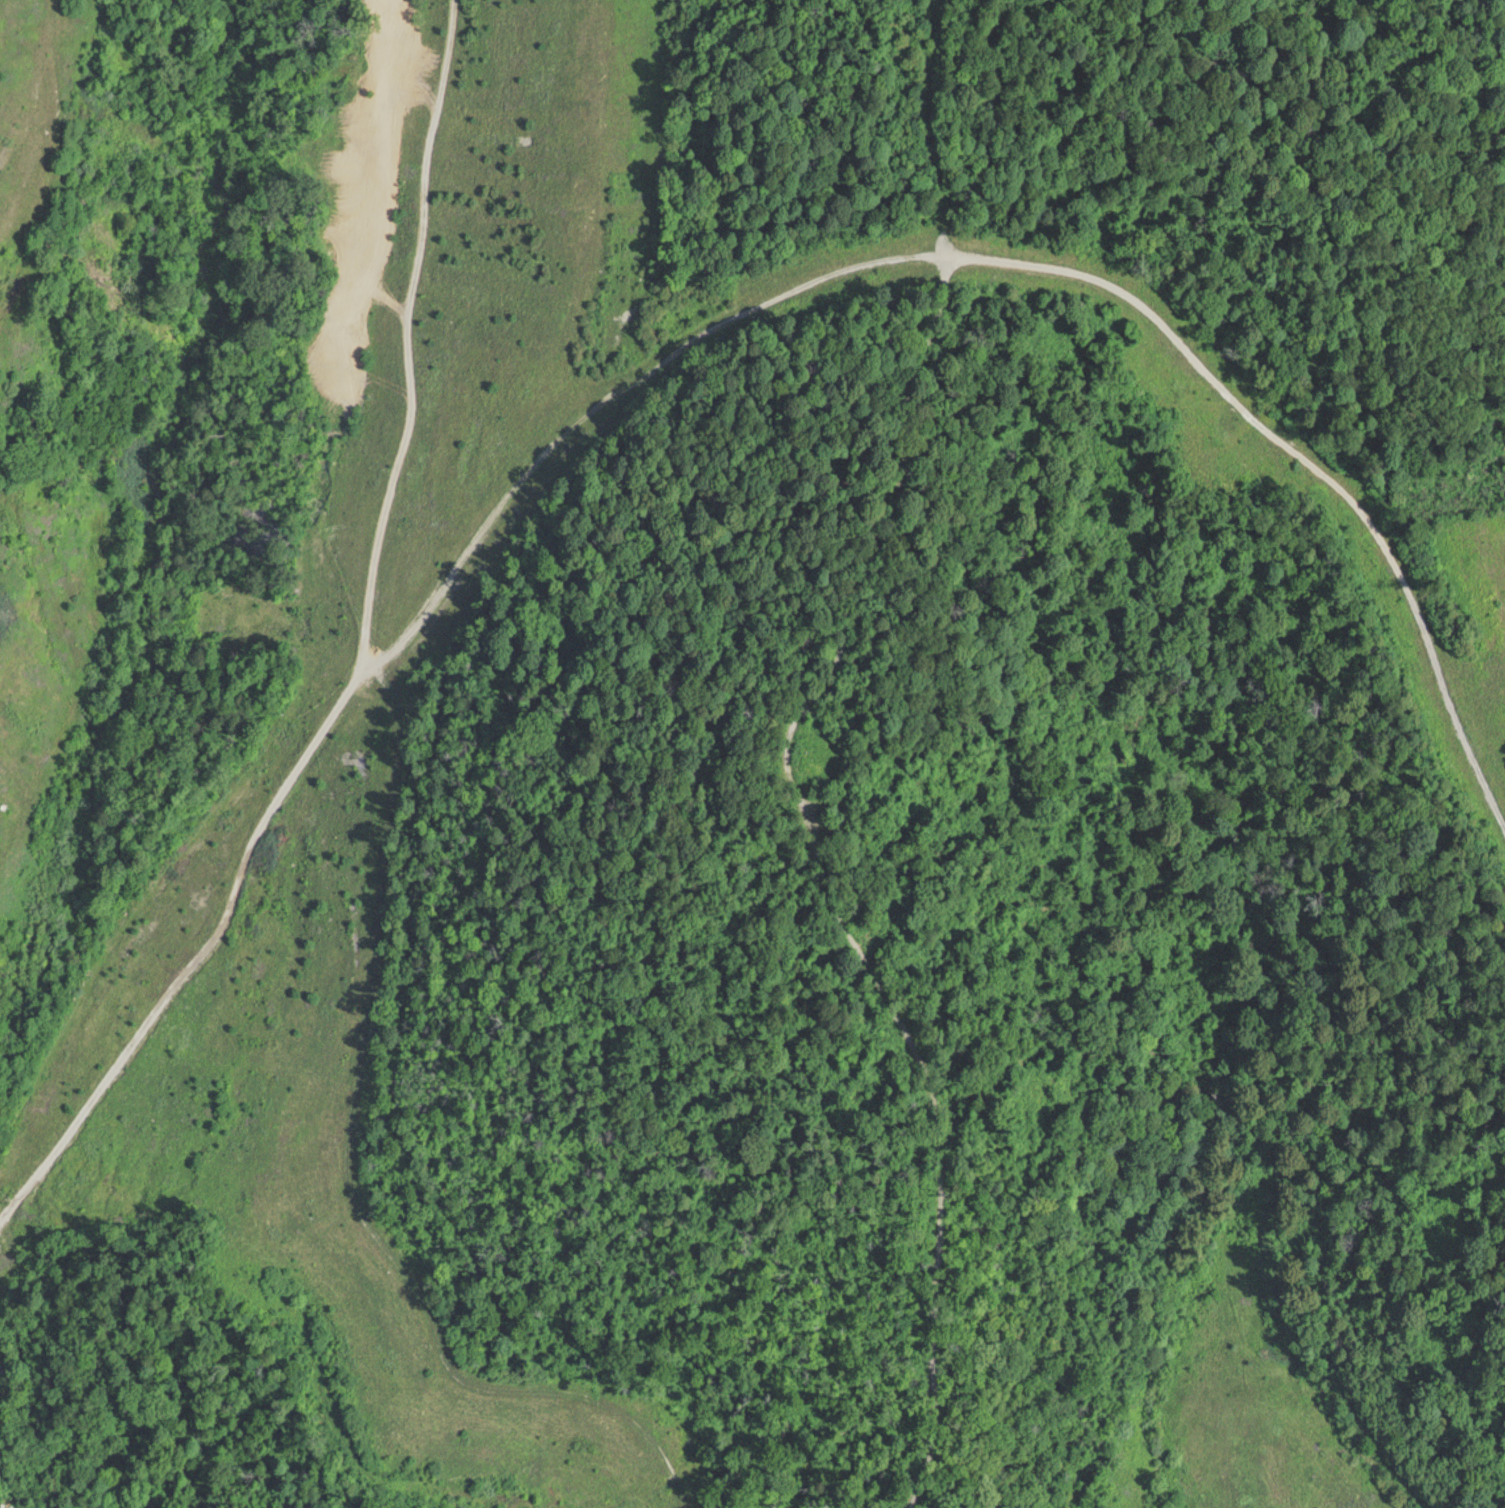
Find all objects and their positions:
road: (1451, 7)

